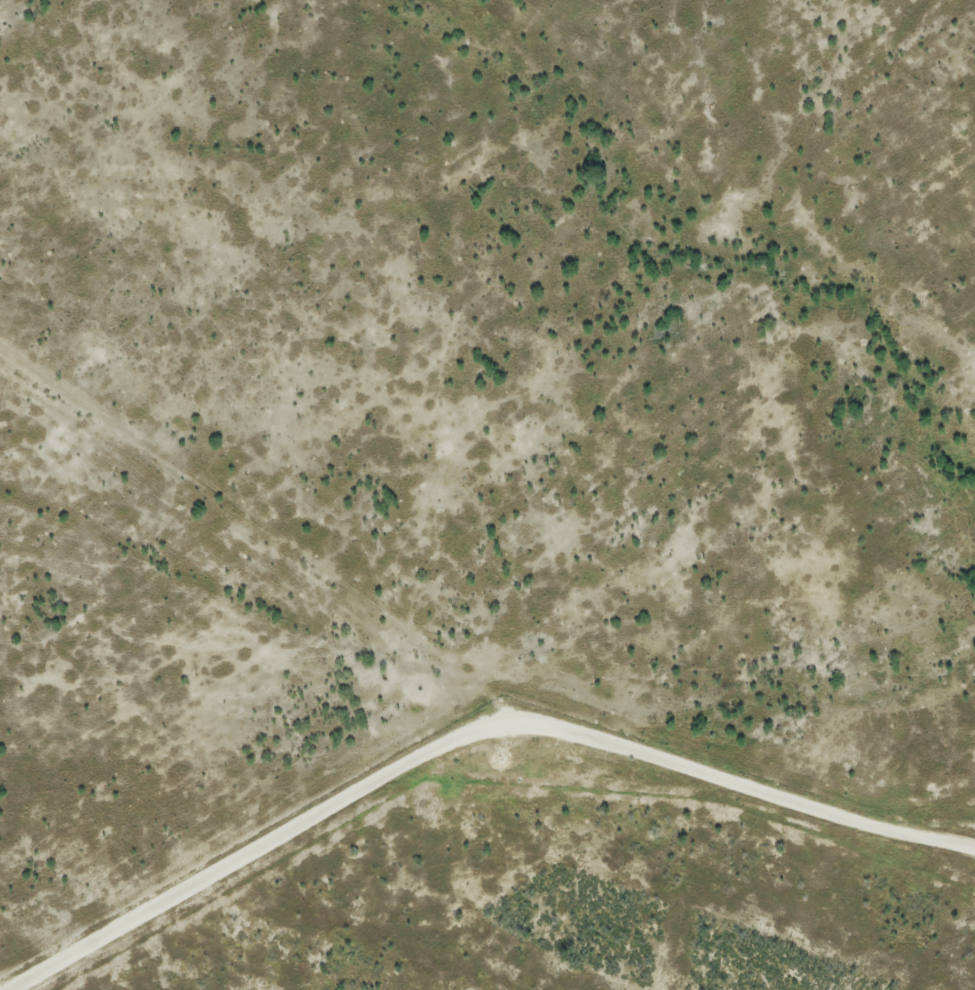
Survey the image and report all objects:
road: (744, 787)
road: (256, 846)

